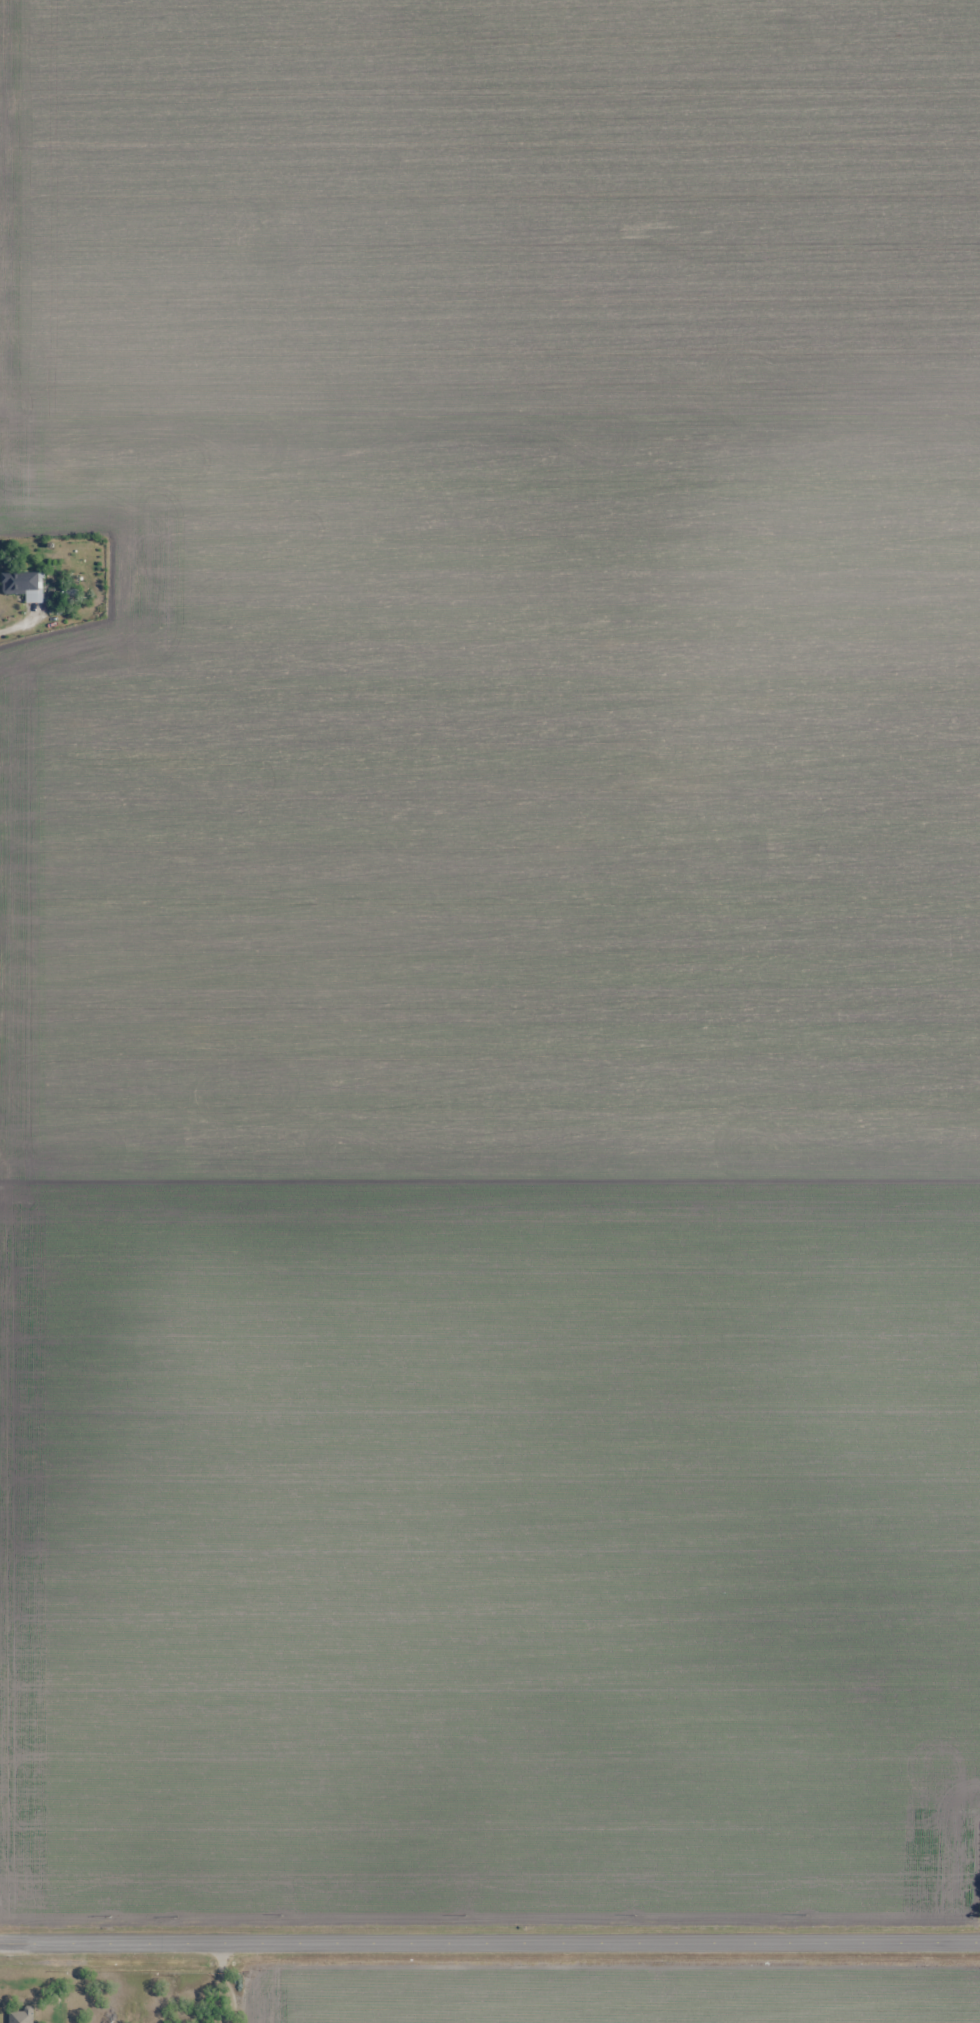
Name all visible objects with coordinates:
building: (24, 586)
road: (490, 1939)
building: (20, 2016)

